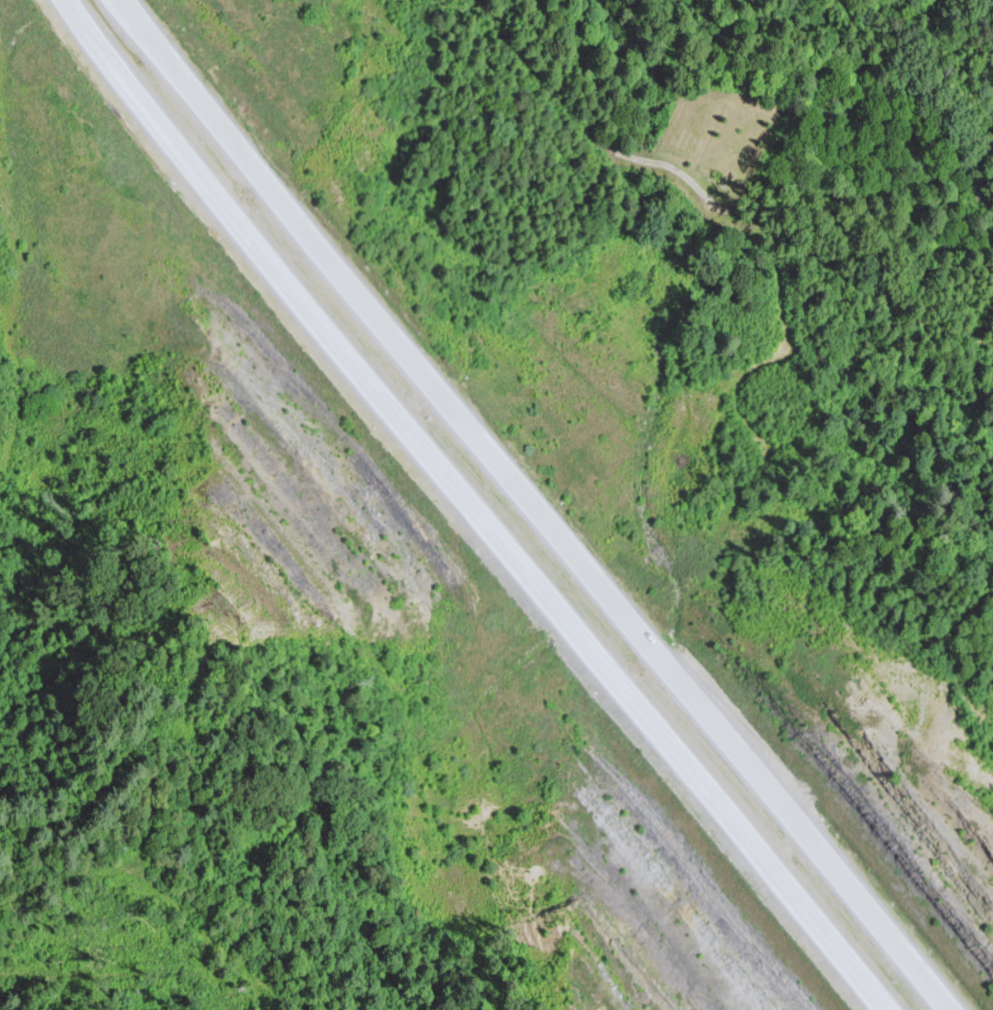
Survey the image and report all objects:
road: (530, 505)
road: (473, 506)
quarry: (292, 512)
quarry: (904, 783)
quarry: (639, 909)

